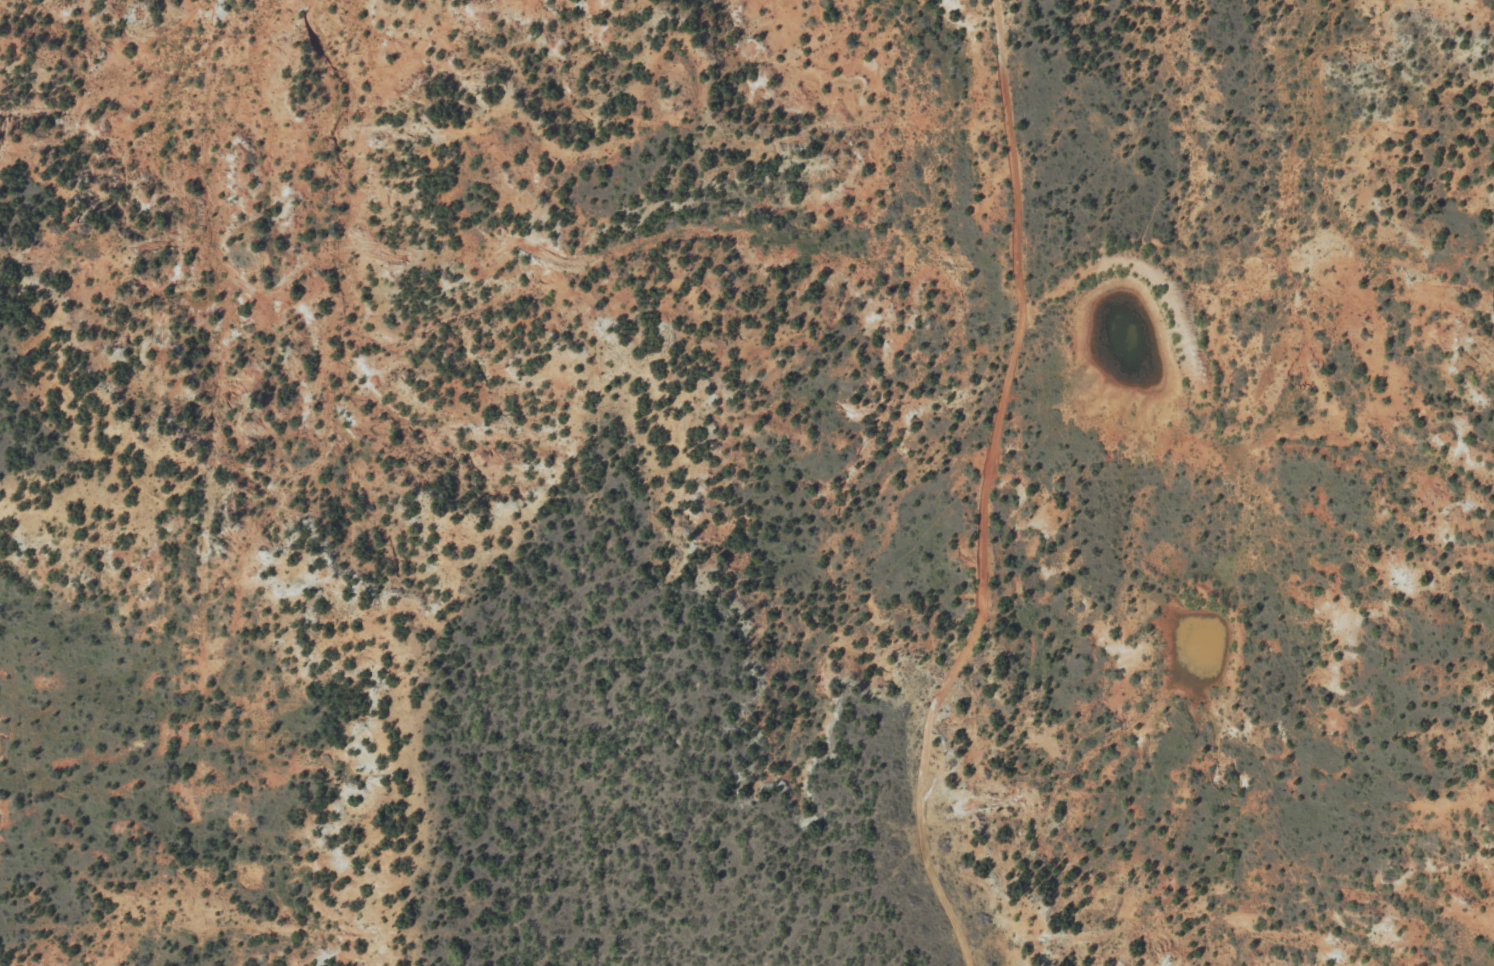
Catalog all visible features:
road: (964, 487)

